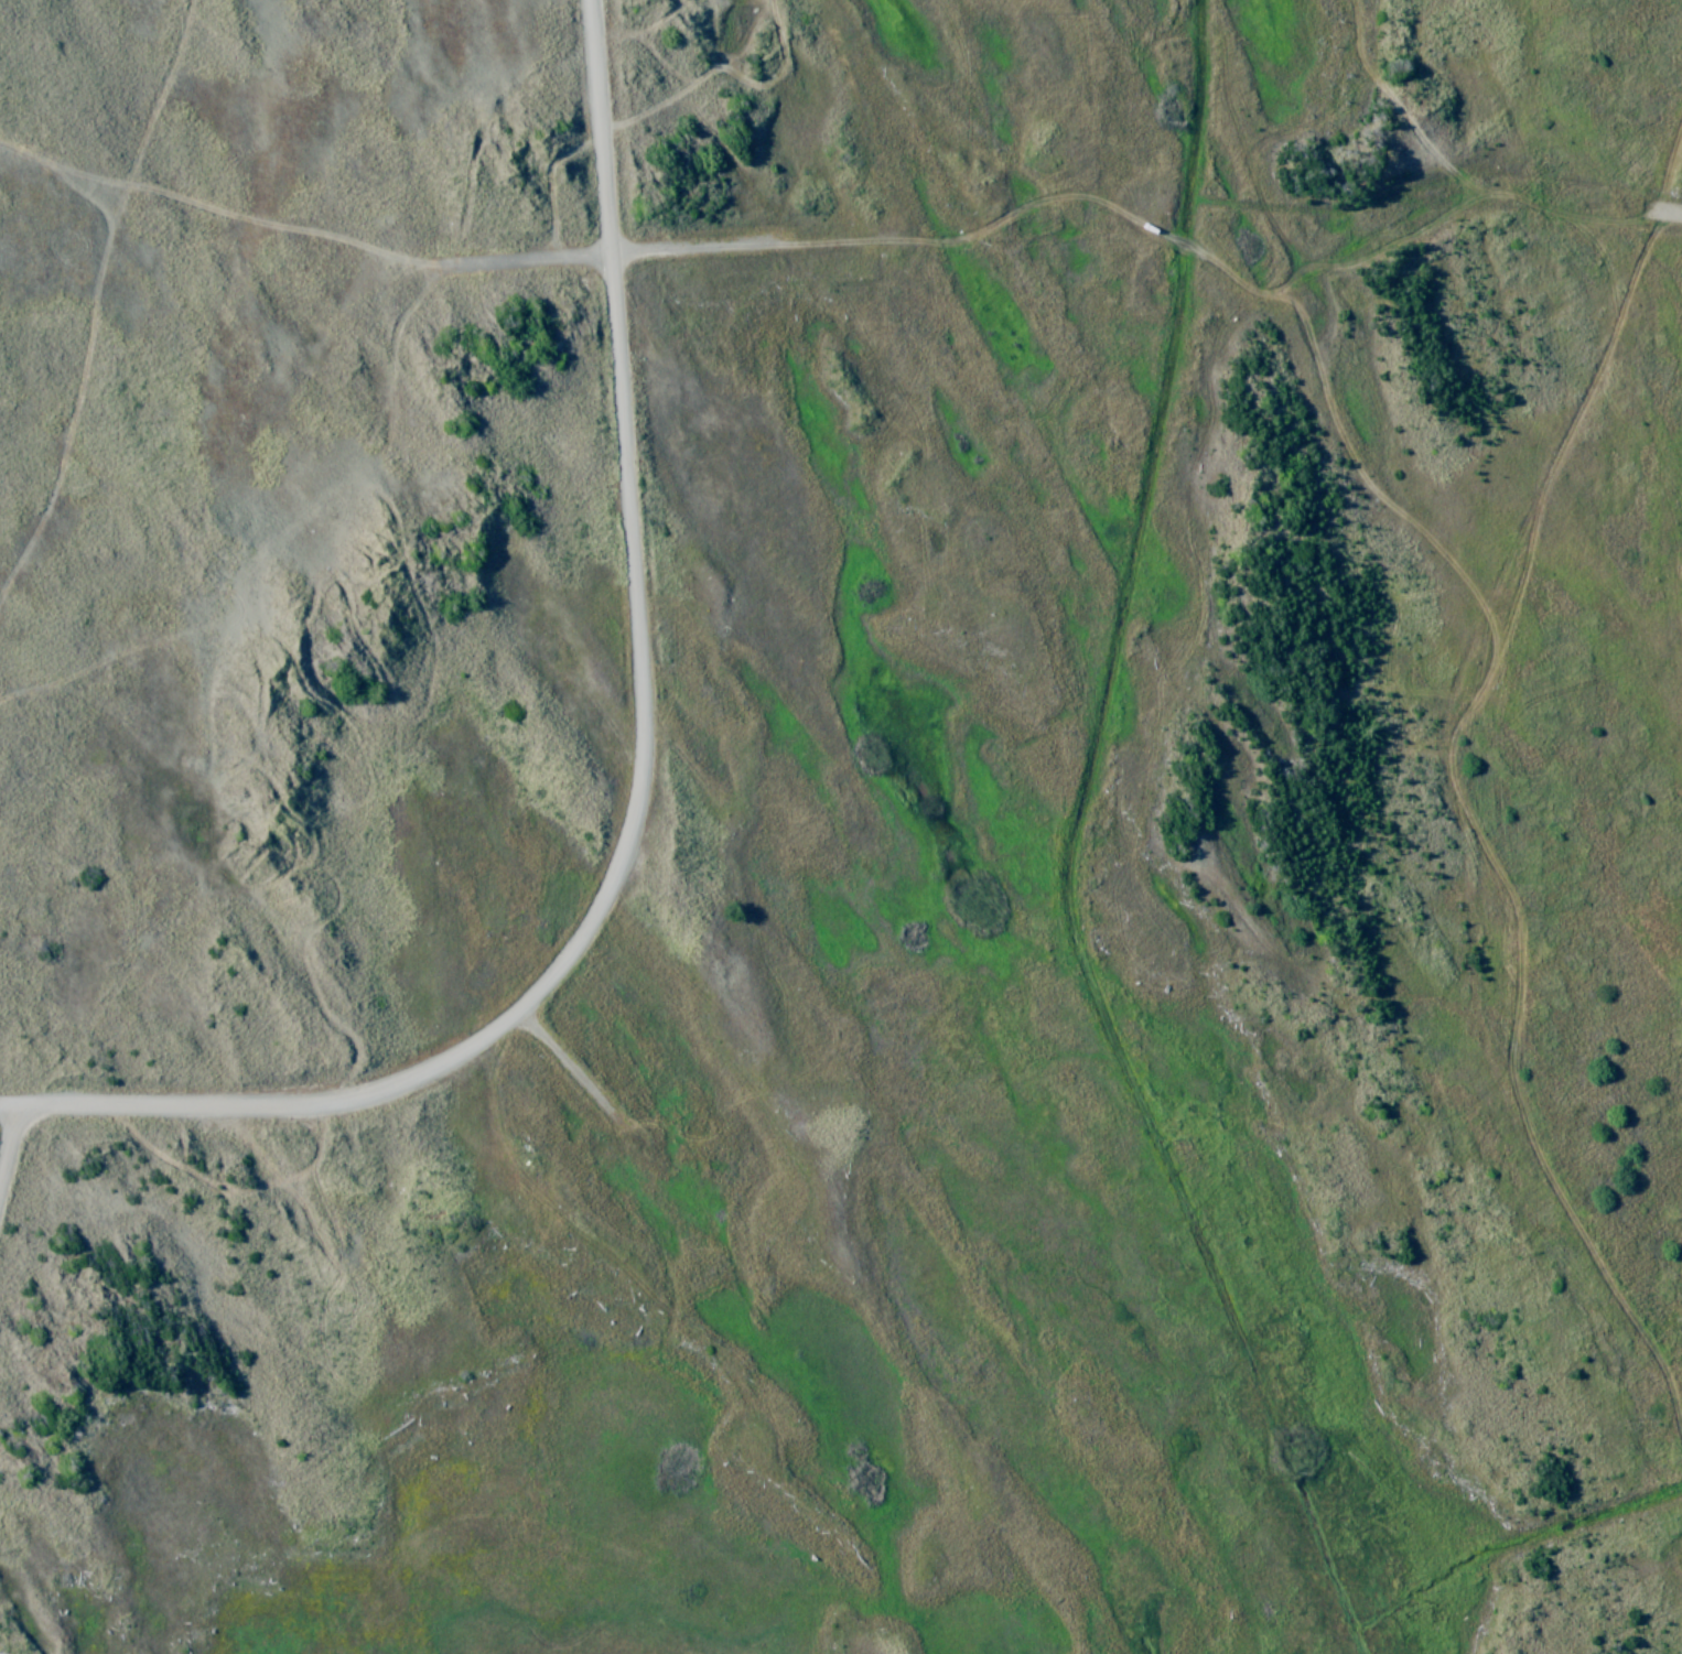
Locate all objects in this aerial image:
road: (1668, 213)
road: (641, 796)
road: (10, 1147)

